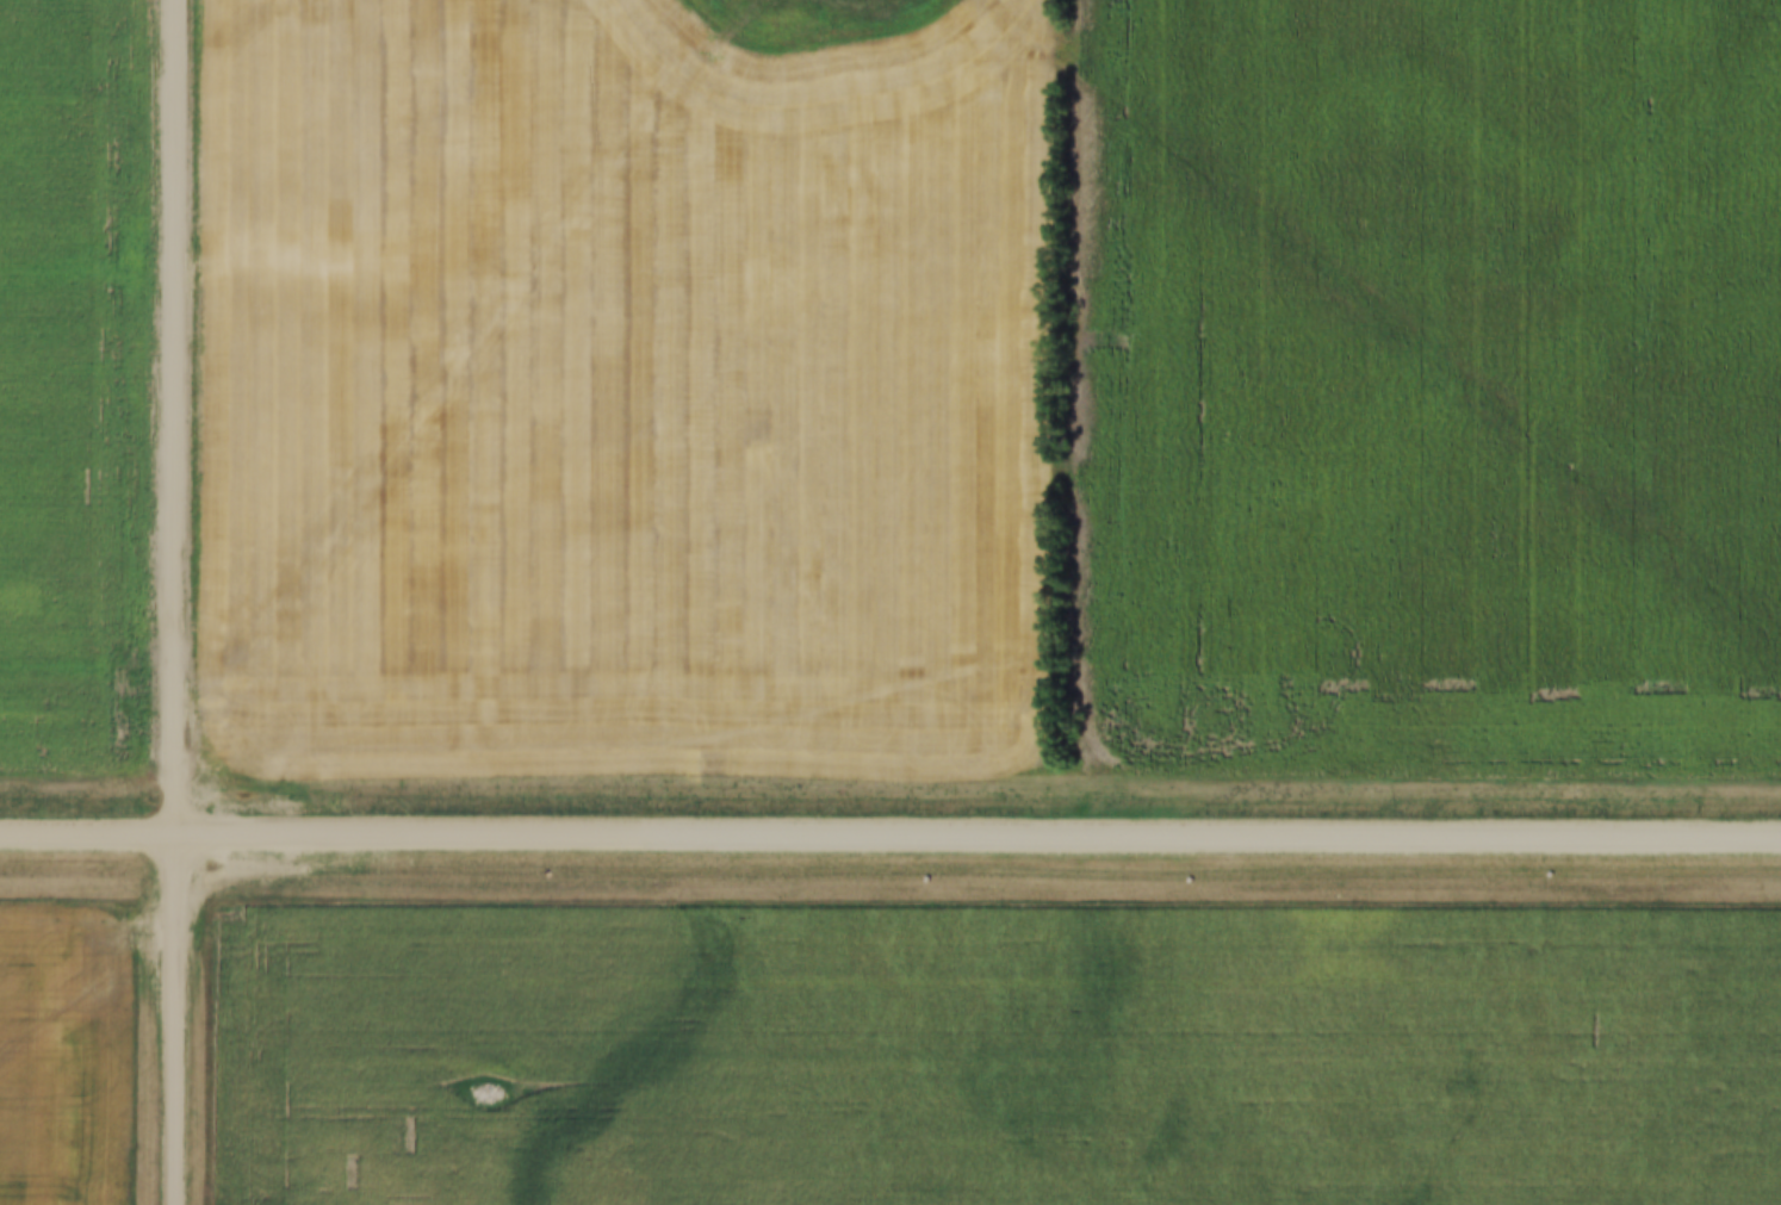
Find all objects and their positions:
road: (181, 417)
road: (889, 836)
road: (178, 1019)

